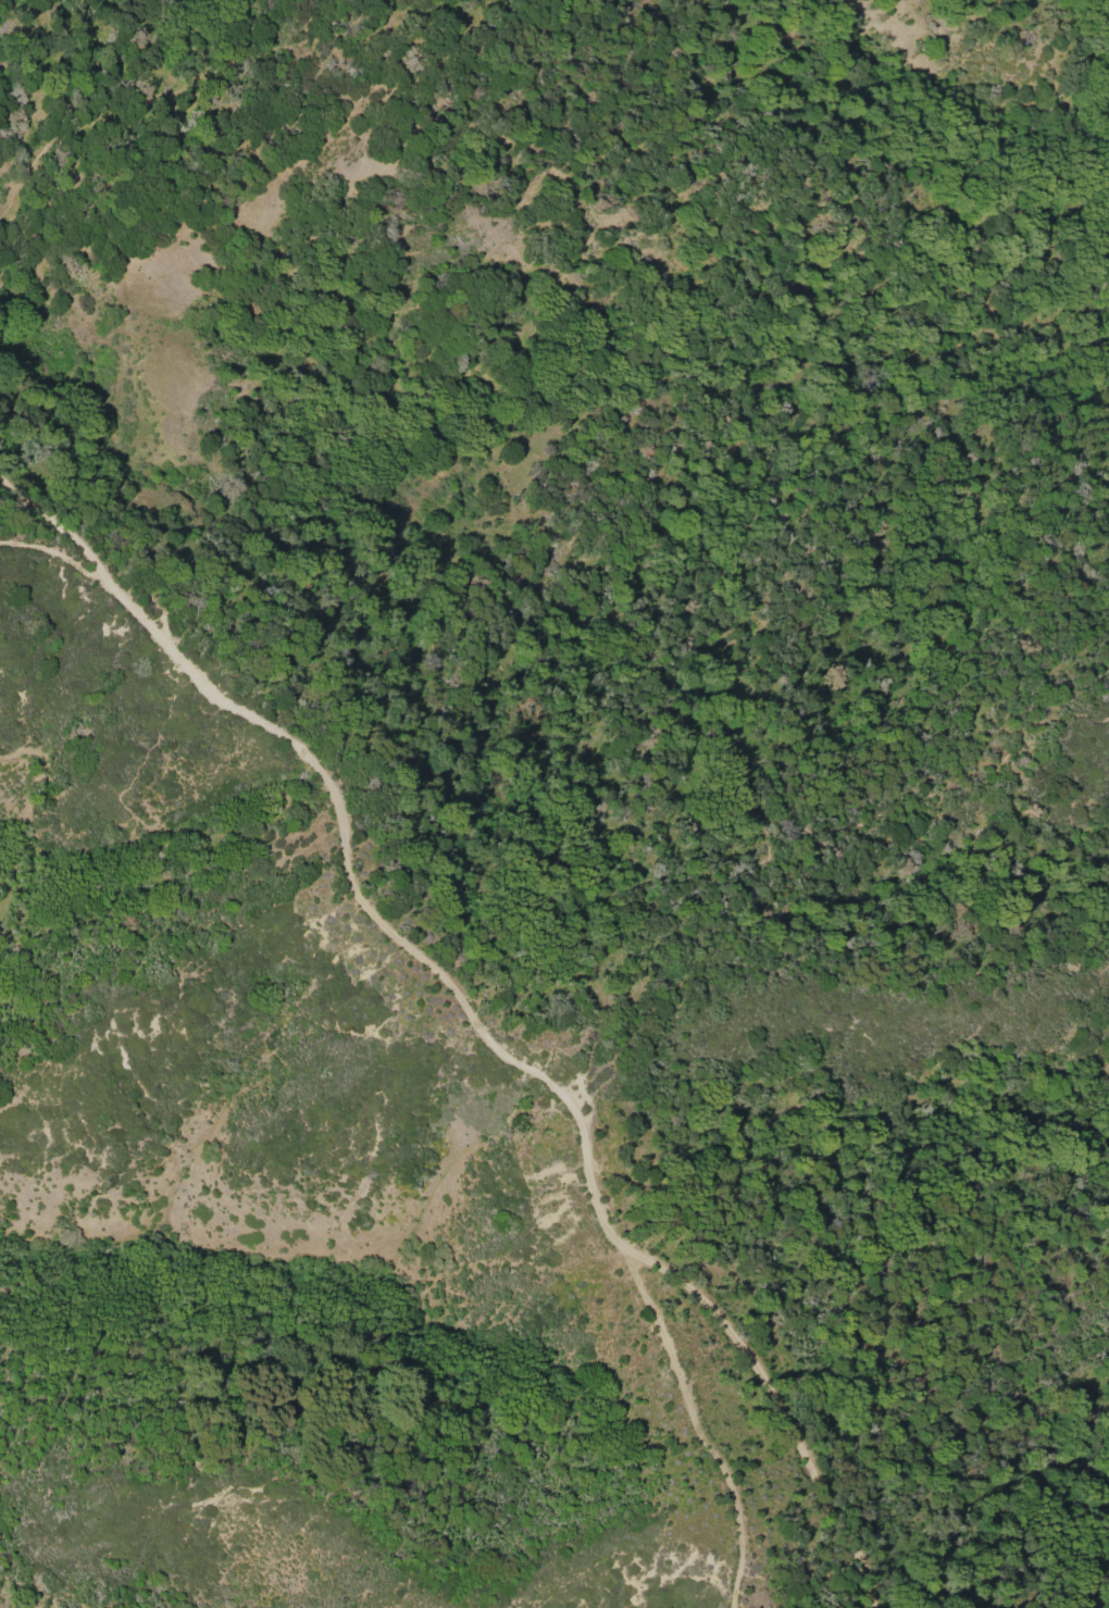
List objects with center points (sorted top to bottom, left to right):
road: (55, 560)
road: (788, 862)
road: (453, 989)
road: (778, 1411)

